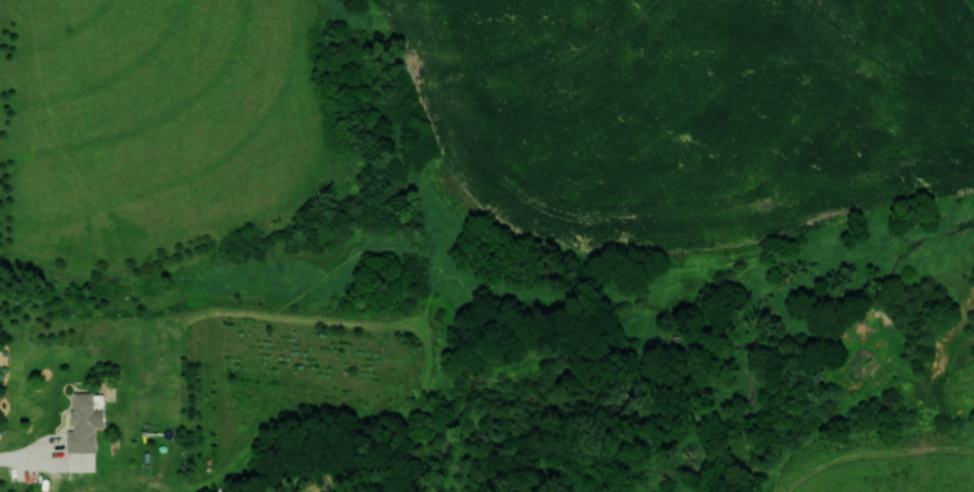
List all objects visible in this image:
building: (84, 421)

